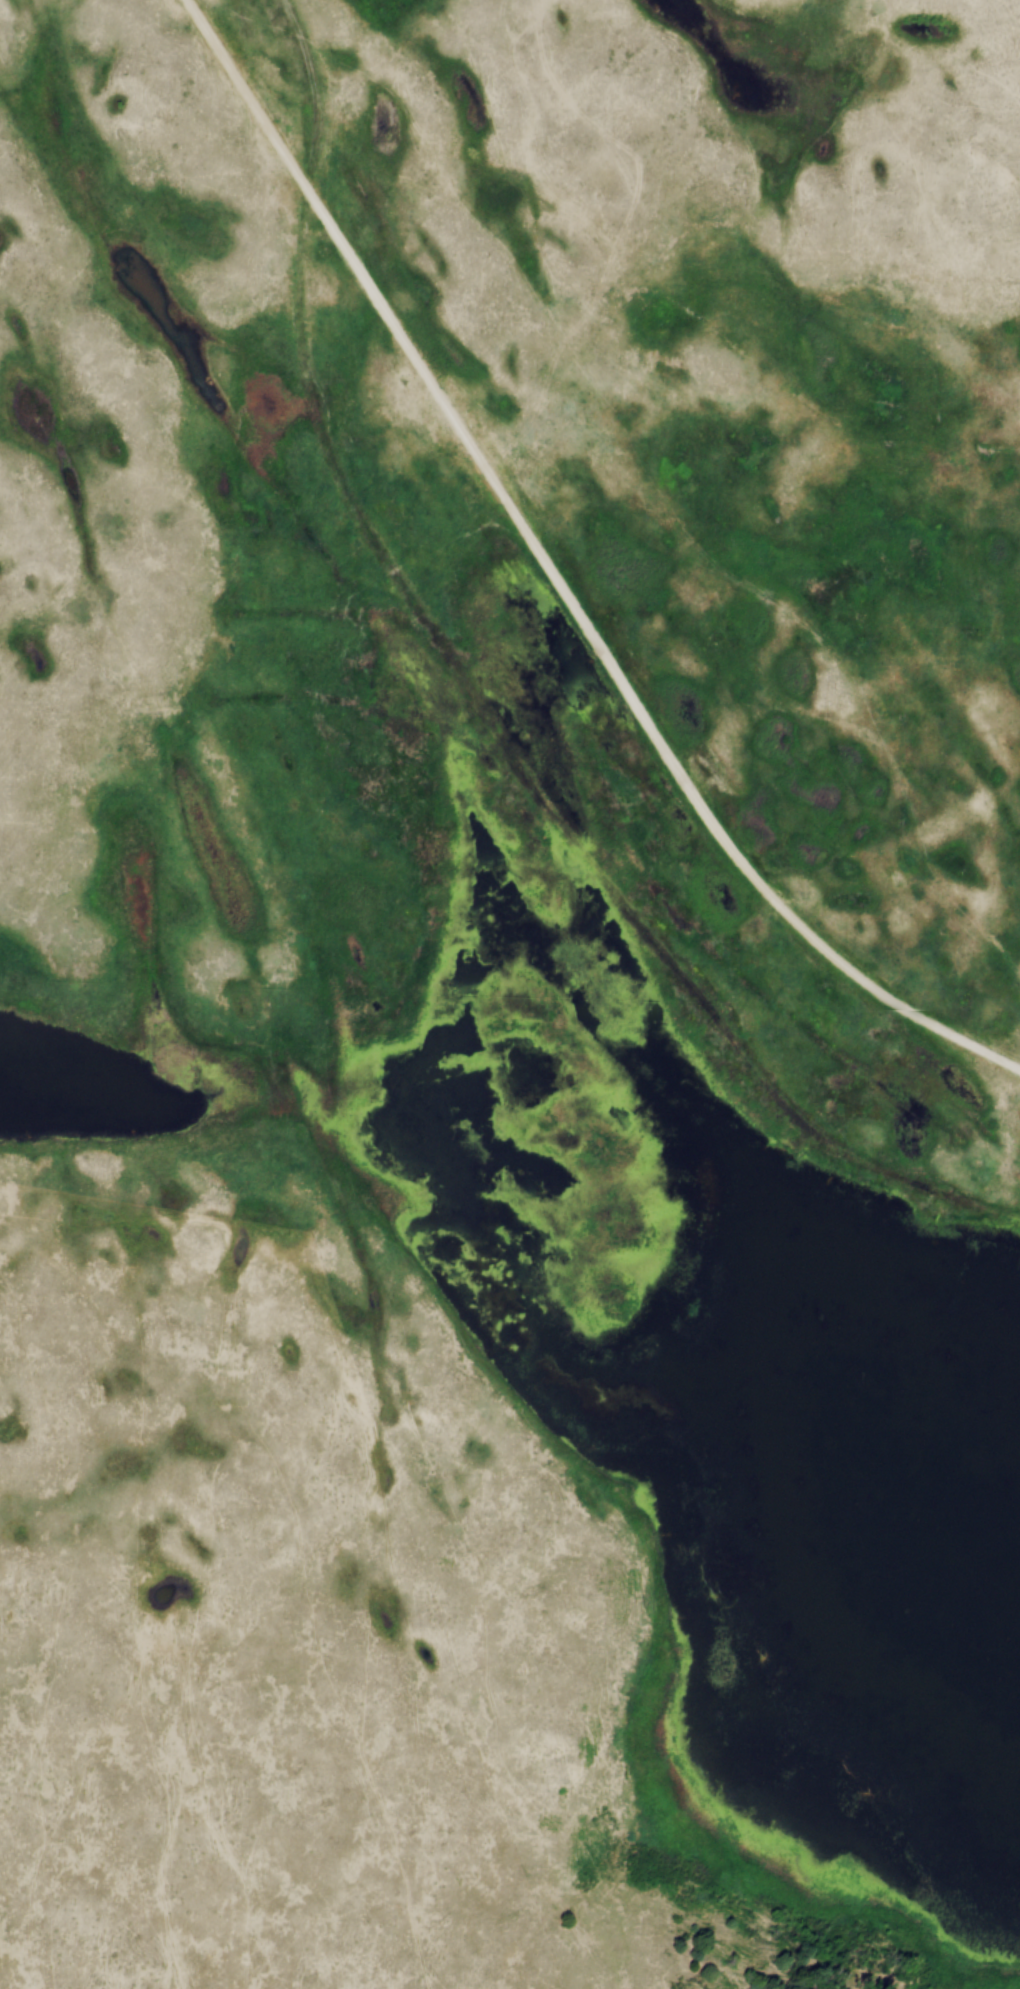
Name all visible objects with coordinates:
road: (558, 575)

